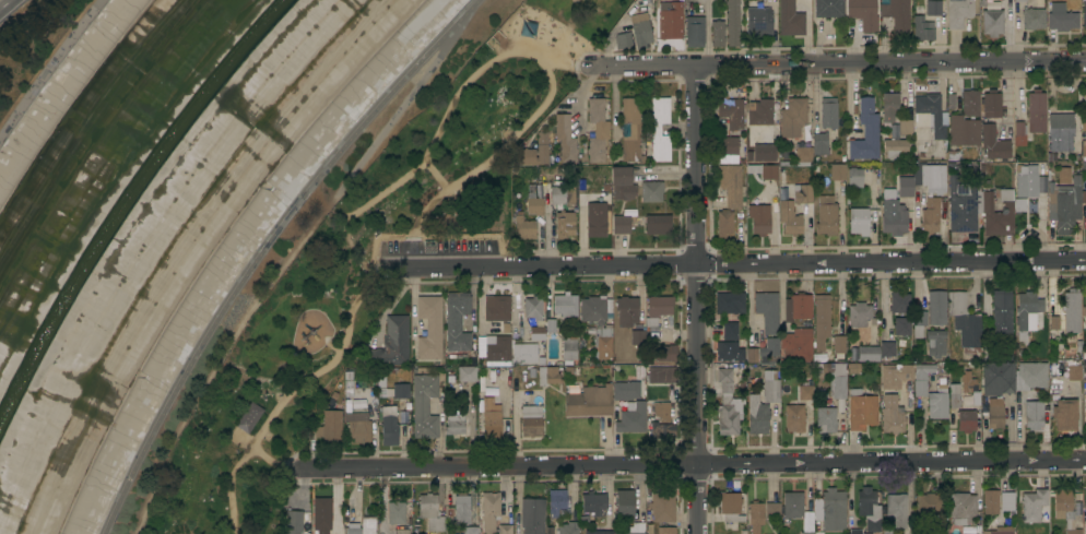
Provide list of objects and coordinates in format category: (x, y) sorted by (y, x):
building: (1019, 0)
building: (1084, 0)
road: (4, 3)
building: (933, 7)
building: (828, 8)
building: (958, 12)
building: (862, 13)
building: (897, 14)
building: (1084, 16)
building: (1061, 17)
building: (669, 19)
building: (790, 19)
building: (1032, 19)
building: (759, 22)
building: (992, 22)
building: (732, 23)
building: (922, 28)
building: (640, 29)
building: (694, 31)
building: (717, 33)
building: (623, 40)
road: (531, 55)
road: (890, 60)
road: (649, 64)
road: (1003, 69)
building: (1085, 100)
building: (970, 103)
road: (1004, 105)
building: (889, 106)
building: (1036, 110)
building: (760, 112)
building: (828, 112)
building: (731, 114)
building: (930, 115)
building: (793, 117)
building: (906, 127)
building: (992, 128)
building: (597, 129)
building: (631, 129)
building: (1018, 129)
building: (659, 130)
building: (964, 130)
building: (895, 131)
building: (865, 132)
building: (1060, 132)
building: (565, 139)
building: (542, 140)
building: (819, 144)
building: (729, 145)
building: (1084, 147)
building: (895, 149)
building: (763, 153)
building: (803, 153)
building: (953, 155)
building: (838, 171)
building: (769, 173)
road: (437, 176)
building: (854, 177)
building: (930, 177)
building: (1026, 180)
building: (904, 181)
building: (622, 183)
building: (731, 185)
building: (651, 191)
building: (802, 193)
building: (563, 195)
building: (1084, 198)
river: (128, 200)
building: (1064, 205)
building: (535, 206)
building: (977, 206)
building: (930, 215)
building: (826, 216)
building: (593, 217)
building: (789, 217)
building: (759, 219)
building: (859, 222)
building: (895, 222)
building: (723, 223)
building: (565, 225)
building: (621, 225)
building: (658, 225)
building: (523, 228)
road: (262, 248)
parking lot: (444, 248)
park: (362, 260)
road: (890, 262)
road: (540, 264)
road: (275, 274)
road: (695, 298)
building: (729, 302)
building: (899, 302)
building: (565, 304)
building: (659, 306)
building: (798, 307)
building: (496, 308)
building: (936, 308)
building: (767, 310)
building: (1072, 310)
building: (626, 311)
building: (1002, 313)
building: (1027, 313)
building: (859, 315)
building: (534, 318)
building: (821, 320)
building: (457, 321)
building: (965, 322)
building: (1054, 322)
building: (599, 323)
building: (919, 323)
building: (551, 325)
building: (429, 327)
building: (901, 327)
building: (730, 331)
building: (637, 336)
building: (935, 343)
building: (391, 344)
building: (838, 344)
building: (768, 345)
building: (796, 345)
building: (887, 348)
building: (568, 349)
building: (497, 351)
building: (729, 352)
building: (1004, 352)
building: (664, 353)
building: (522, 354)
building: (866, 354)
building: (751, 355)
building: (1074, 372)
building: (467, 373)
building: (662, 375)
building: (895, 375)
building: (547, 376)
building: (1013, 377)
building: (380, 378)
building: (836, 379)
building: (920, 380)
building: (772, 385)
building: (970, 387)
building: (456, 390)
building: (625, 390)
building: (401, 391)
road: (288, 392)
building: (805, 392)
building: (954, 395)
building: (589, 402)
building: (937, 402)
building: (1085, 402)
building: (727, 405)
building: (424, 406)
building: (861, 410)
building: (661, 412)
building: (995, 413)
building: (1034, 414)
building: (1064, 414)
building: (757, 415)
building: (892, 415)
building: (248, 417)
building: (631, 417)
building: (794, 418)
building: (491, 419)
building: (826, 419)
building: (966, 420)
building: (531, 422)
building: (453, 424)
building: (329, 426)
building: (357, 426)
building: (389, 426)
building: (661, 429)
road: (890, 462)
road: (470, 465)
building: (990, 501)
building: (1006, 501)
building: (557, 502)
building: (593, 503)
building: (624, 505)
building: (1032, 505)
building: (792, 506)
building: (929, 506)
building: (730, 507)
building: (461, 508)
building: (662, 508)
building: (961, 508)
building: (881, 509)
building: (1064, 509)
building: (489, 510)
building: (830, 510)
building: (430, 511)
building: (772, 511)
building: (396, 512)
building: (322, 515)
building: (532, 515)
building: (755, 515)
building: (294, 522)
building: (368, 524)
building: (634, 527)
building: (353, 529)
building: (568, 529)
building: (1085, 529)
building: (470, 530)
building: (505, 530)
building: (665, 530)
building: (1001, 530)
building: (401, 531)
building: (888, 531)
building: (598, 532)
building: (817, 532)
building: (855, 532)
building: (806, 533)

